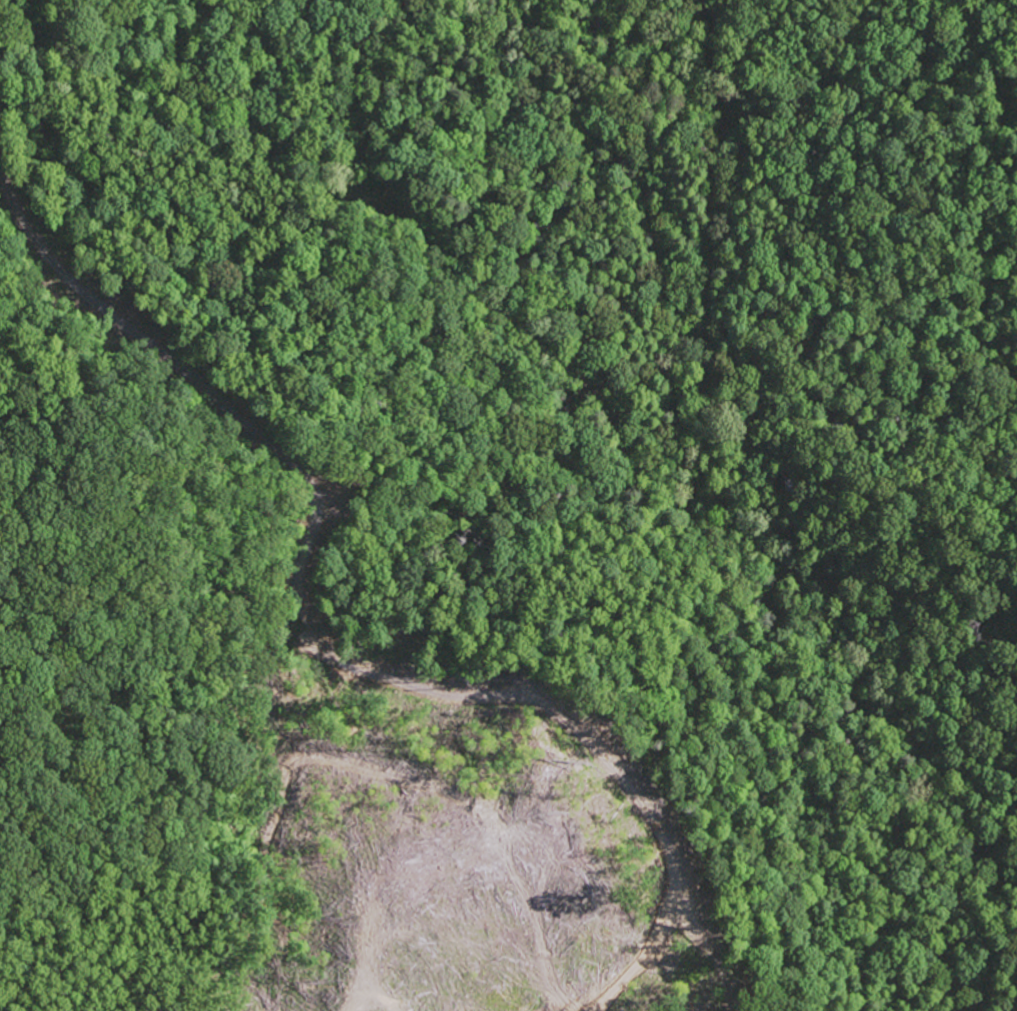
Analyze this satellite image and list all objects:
road: (502, 451)
road: (300, 703)

